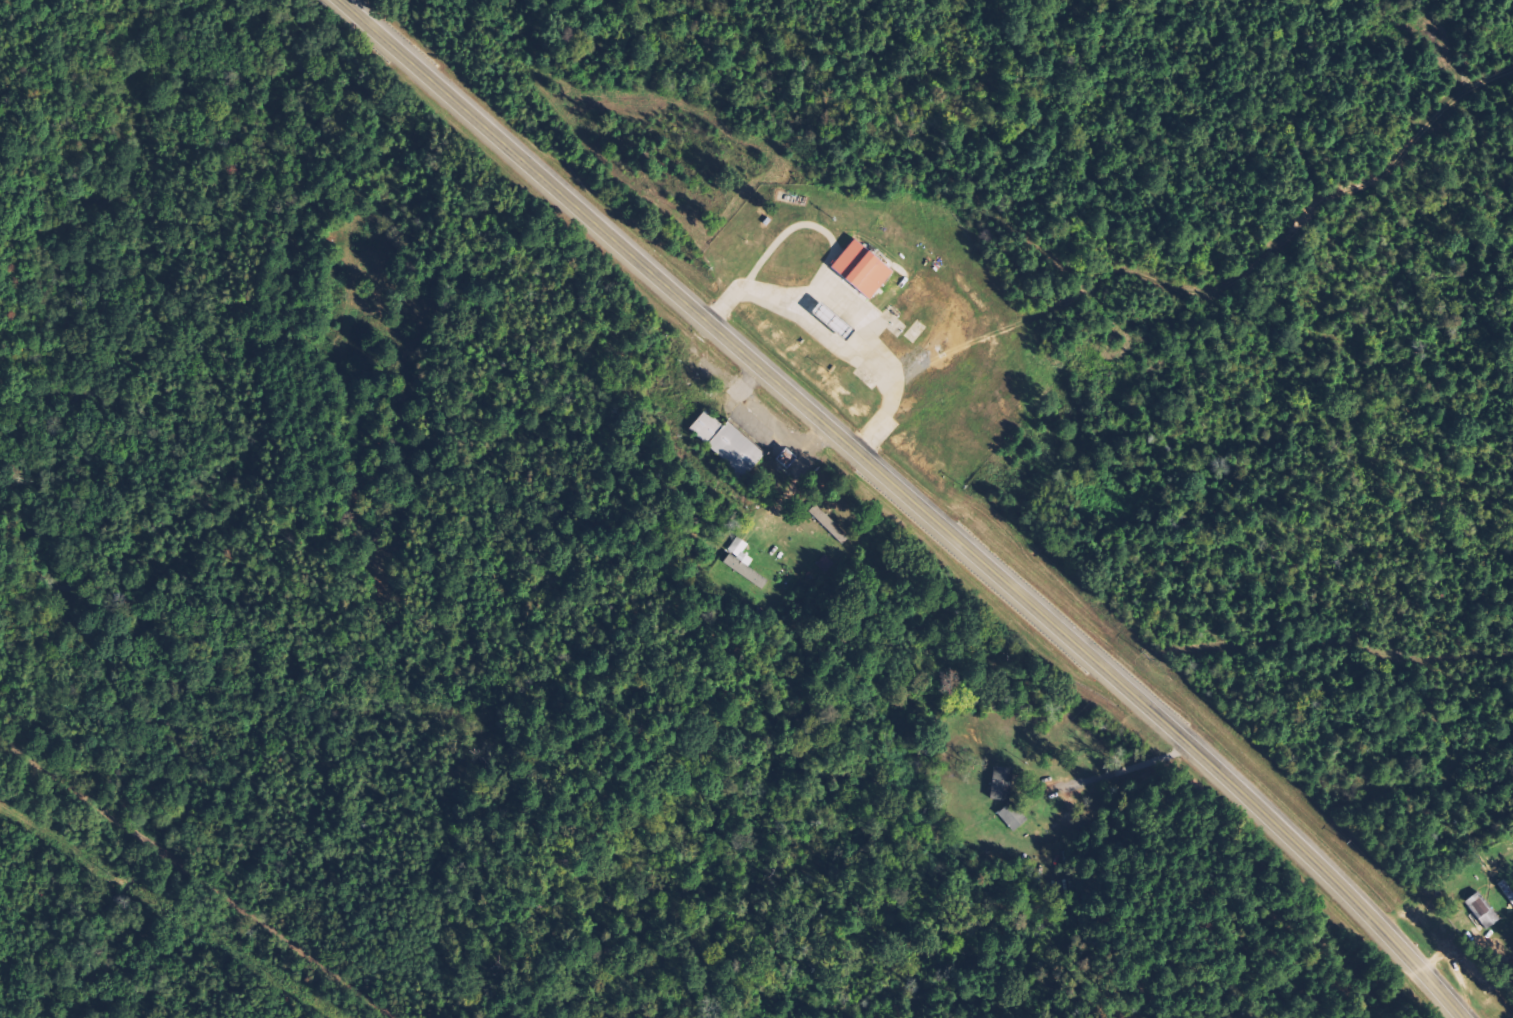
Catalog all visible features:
building: (867, 269)
building: (731, 444)
road: (921, 496)
building: (835, 529)
building: (740, 548)
building: (748, 572)
building: (999, 783)
building: (1011, 818)
road: (204, 878)
building: (1481, 910)

